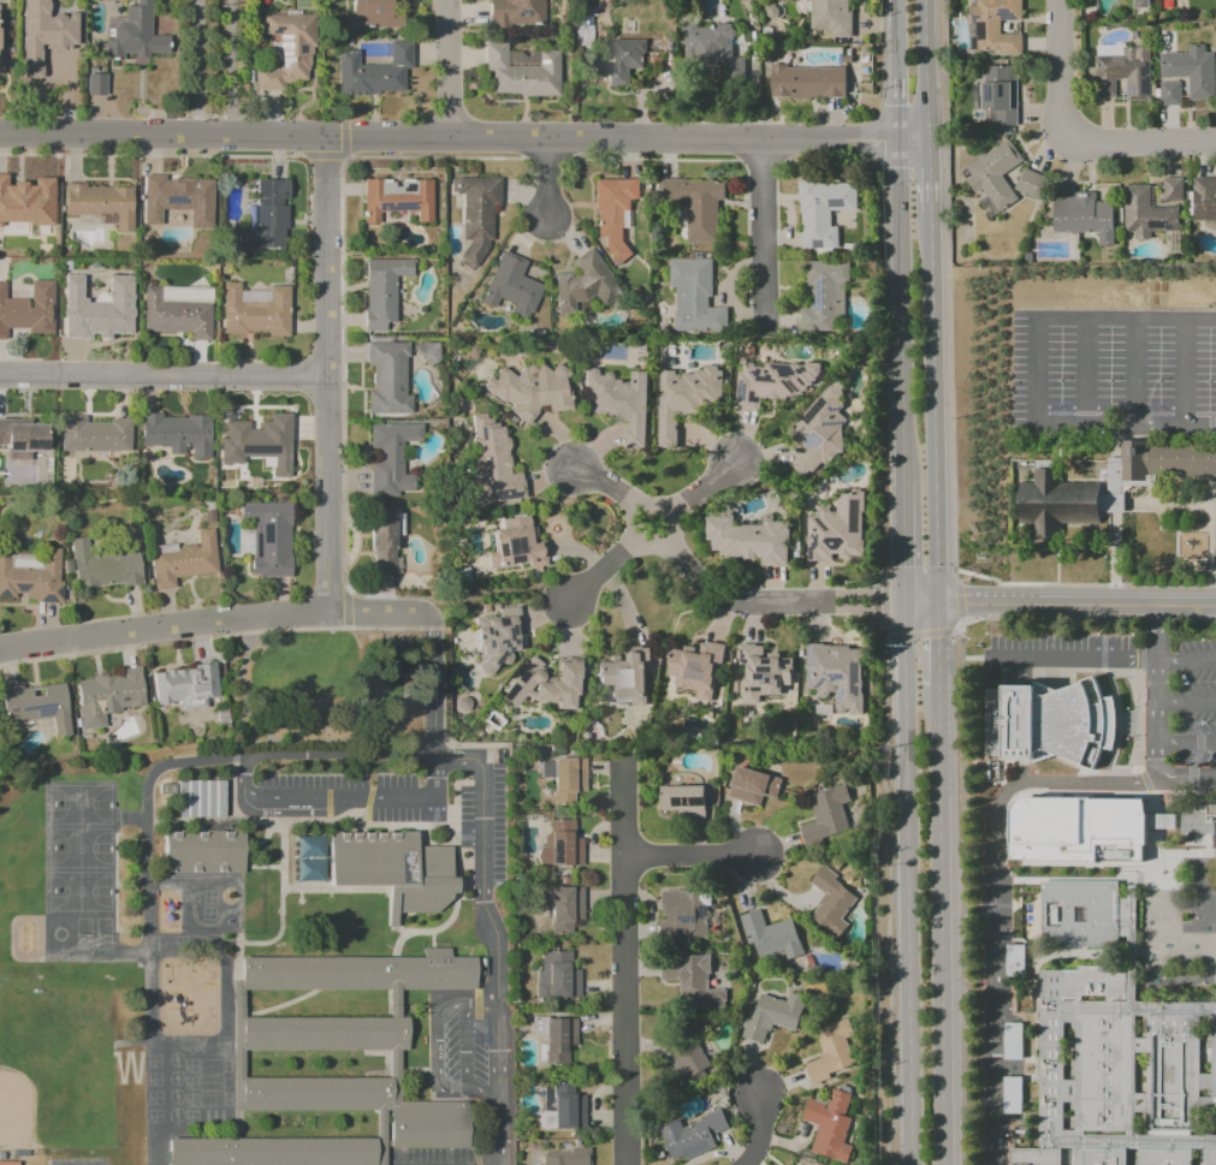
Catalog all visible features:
rooftop solar panel: (512, 0)
building: (1139, 4)
building: (376, 12)
building: (515, 12)
rooftop solar panel: (526, 16)
road: (891, 16)
rooftop solar panel: (973, 16)
rooftop solar panel: (1004, 16)
building: (831, 17)
building: (992, 26)
rooftop solar panel: (275, 30)
building: (43, 35)
building: (135, 35)
road: (926, 37)
rooftop solar panel: (285, 47)
building: (711, 47)
rooftop solar panel: (299, 49)
road: (892, 49)
building: (286, 50)
building: (624, 59)
rooftop solar panel: (284, 65)
road: (196, 69)
road: (447, 69)
road: (231, 70)
building: (1191, 70)
building: (1122, 71)
building: (373, 72)
building: (521, 72)
building: (807, 82)
building: (95, 84)
building: (1169, 93)
building: (998, 95)
road: (894, 103)
road: (927, 106)
road: (1078, 135)
road: (162, 137)
road: (609, 139)
road: (912, 139)
building: (993, 174)
road: (930, 176)
road: (548, 184)
building: (1031, 184)
building: (1171, 189)
building: (178, 198)
building: (396, 198)
building: (1204, 198)
rooftop solar panel: (176, 200)
building: (26, 201)
rooftop solar panel: (832, 202)
building: (101, 203)
building: (695, 204)
rooftop solar panel: (395, 207)
building: (613, 212)
building: (823, 212)
building: (1145, 213)
building: (267, 216)
building: (475, 216)
building: (1082, 216)
road: (761, 228)
road: (898, 239)
road: (933, 275)
building: (583, 283)
building: (511, 286)
building: (381, 290)
building: (824, 296)
building: (694, 297)
rooftop solar panel: (818, 302)
building: (28, 309)
building: (97, 309)
rooftop solar panel: (829, 309)
building: (255, 310)
building: (176, 316)
building: (428, 352)
parking lot: (1114, 363)
road: (1036, 373)
road: (1082, 373)
road: (1133, 373)
road: (1182, 373)
road: (325, 376)
building: (387, 378)
road: (162, 379)
building: (772, 382)
rooftop solar panel: (739, 384)
building: (529, 390)
rooftop solar panel: (739, 393)
building: (684, 398)
building: (618, 402)
rooftop solar panel: (812, 410)
rooftop solar panel: (834, 410)
road: (902, 411)
rooftop solar panel: (831, 424)
building: (818, 430)
building: (94, 434)
building: (177, 434)
building: (22, 438)
rooftop solar panel: (808, 441)
building: (257, 442)
building: (391, 457)
building: (491, 462)
building: (1157, 463)
road: (937, 470)
road: (605, 486)
road: (705, 487)
rooftop solar panel: (509, 494)
building: (1061, 503)
rooftop solar panel: (853, 515)
road: (631, 521)
building: (836, 529)
building: (1215, 529)
building: (268, 537)
building: (748, 540)
building: (385, 542)
road: (903, 543)
building: (515, 545)
rooftop solar panel: (511, 546)
rooftop solar panel: (497, 551)
building: (183, 559)
rooftop solar panel: (512, 560)
traffic signals: (903, 563)
building: (102, 566)
road: (599, 572)
building: (32, 578)
rooftop solar panel: (22, 588)
rooftop solar panel: (60, 592)
road: (853, 593)
rooftop solar panel: (4, 594)
road: (723, 598)
rooftop solar panel: (49, 599)
road: (880, 600)
road: (957, 600)
road: (921, 604)
traffic signals: (955, 605)
road: (1076, 605)
road: (853, 610)
traffic signals: (879, 610)
road: (379, 614)
road: (1087, 619)
rooftop solar panel: (498, 622)
road: (956, 625)
road: (164, 628)
rooftop solar panel: (485, 630)
rooftop solar panel: (488, 634)
road: (915, 635)
traffic signals: (941, 636)
rooftop solar panel: (477, 637)
building: (497, 638)
rooftop solar panel: (484, 644)
road: (941, 646)
parking lot: (1061, 648)
rooftop solar panel: (484, 650)
rooftop solar panel: (808, 653)
road: (1072, 659)
road: (1186, 661)
rooftop solar panel: (812, 664)
building: (695, 668)
building: (763, 672)
building: (835, 674)
rooftop solar panel: (522, 676)
rooftop solar panel: (832, 676)
rooftop solar panel: (850, 676)
rooftop solar panel: (807, 677)
rooftop solar panel: (818, 683)
building: (545, 684)
building: (185, 685)
rooftop solar panel: (853, 689)
rooftop solar panel: (510, 690)
park: (322, 691)
road: (1157, 693)
rooftop solar panel: (838, 695)
building: (106, 696)
road: (1186, 703)
parking lot: (1198, 703)
building: (36, 705)
road: (432, 707)
rooftop solar panel: (43, 711)
building: (1051, 723)
road: (259, 726)
road: (313, 743)
road: (1186, 745)
rooftop solar panel: (546, 768)
road: (244, 779)
building: (567, 779)
road: (1186, 780)
parking lot: (337, 781)
building: (752, 785)
building: (201, 800)
building: (682, 801)
road: (146, 803)
rooftop solar panel: (677, 803)
rooftop solar panel: (683, 803)
rooftop solar panel: (692, 803)
park: (79, 806)
parking lot: (405, 816)
parking lot: (465, 818)
building: (825, 818)
building: (1198, 820)
parking lot: (499, 825)
building: (1072, 826)
building: (560, 845)
park: (79, 850)
rooftop solar panel: (557, 850)
building: (203, 851)
road: (690, 855)
building: (382, 860)
road: (907, 884)
road: (889, 892)
park: (79, 893)
building: (429, 899)
road: (996, 899)
building: (830, 903)
building: (559, 905)
building: (683, 914)
building: (1080, 915)
road: (941, 927)
building: (770, 935)
road: (497, 939)
rooftop solar panel: (1015, 955)
building: (1014, 959)
road: (624, 962)
building: (360, 975)
building: (556, 976)
building: (690, 980)
parking lot: (998, 983)
building: (1095, 983)
building: (773, 1015)
building: (326, 1034)
building: (554, 1038)
building: (1012, 1041)
road: (469, 1048)
rooftop solar panel: (1012, 1048)
road: (438, 1050)
building: (835, 1050)
parking lot: (464, 1051)
building: (688, 1058)
building: (1050, 1060)
building: (1104, 1072)
building: (1173, 1072)
building: (1214, 1080)
building: (318, 1094)
rooftop solar panel: (1013, 1096)
building: (560, 1106)
park: (11, 1107)
building: (437, 1125)
building: (829, 1125)
road: (759, 1130)
building: (690, 1136)
building: (273, 1152)
parking lot: (429, 1157)
building: (564, 1157)
building: (1036, 1157)
building: (1104, 1157)
building: (1164, 1158)
building: (1210, 1158)

